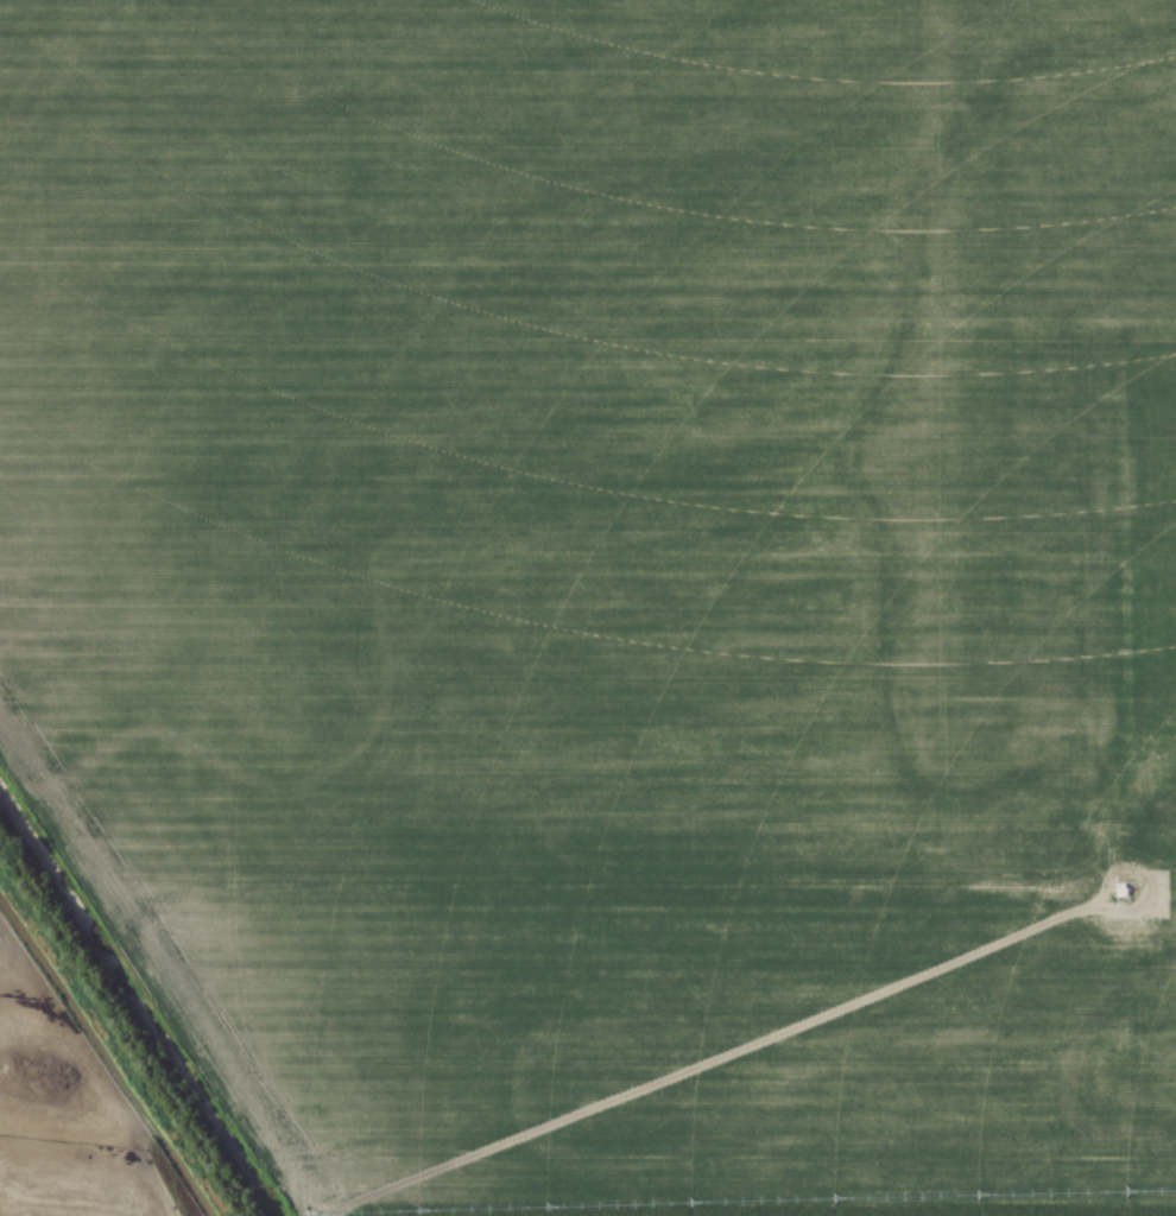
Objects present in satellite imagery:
building: (1124, 891)

